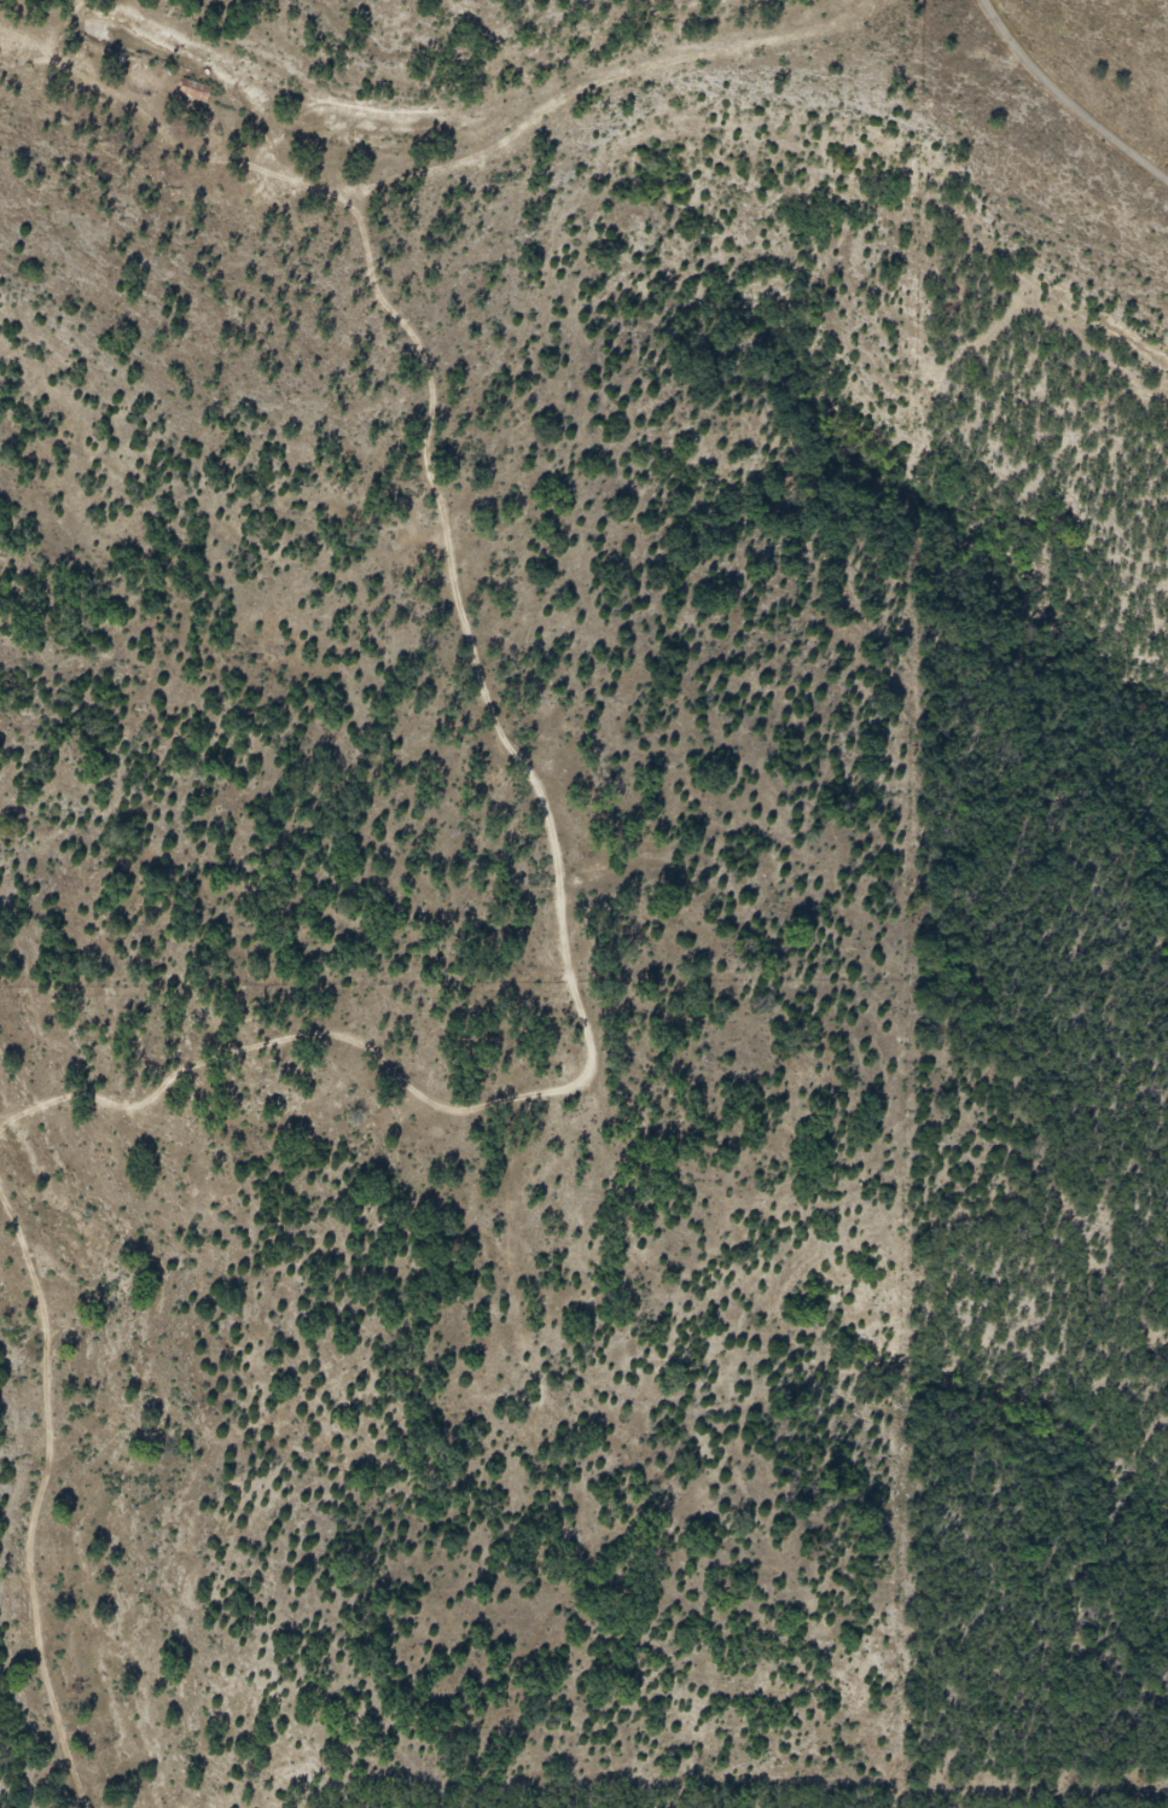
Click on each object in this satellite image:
road: (430, 180)
road: (610, 937)
road: (145, 1457)

